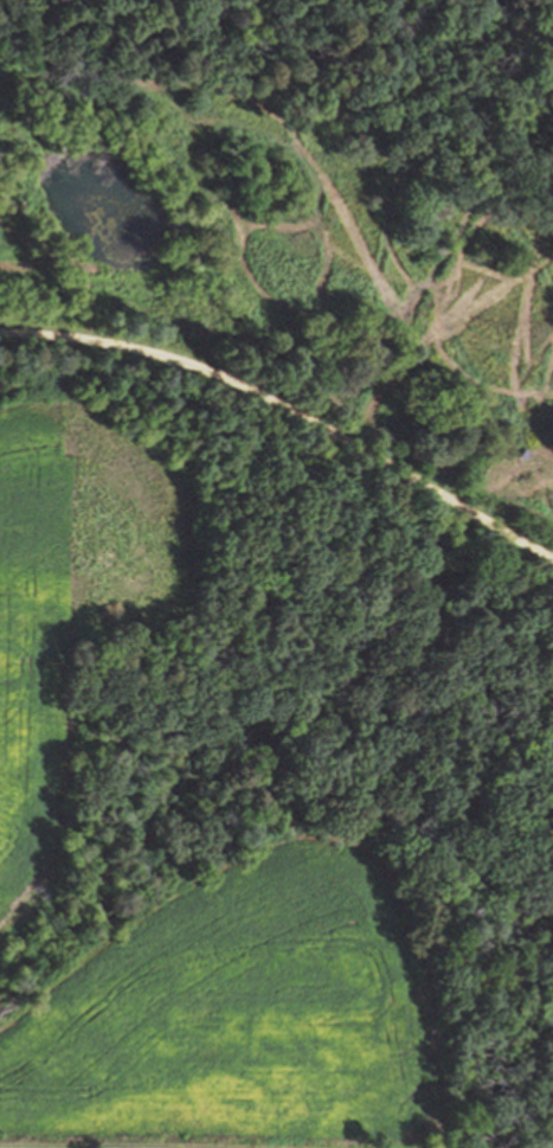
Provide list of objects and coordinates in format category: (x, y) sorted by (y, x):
road: (290, 408)

